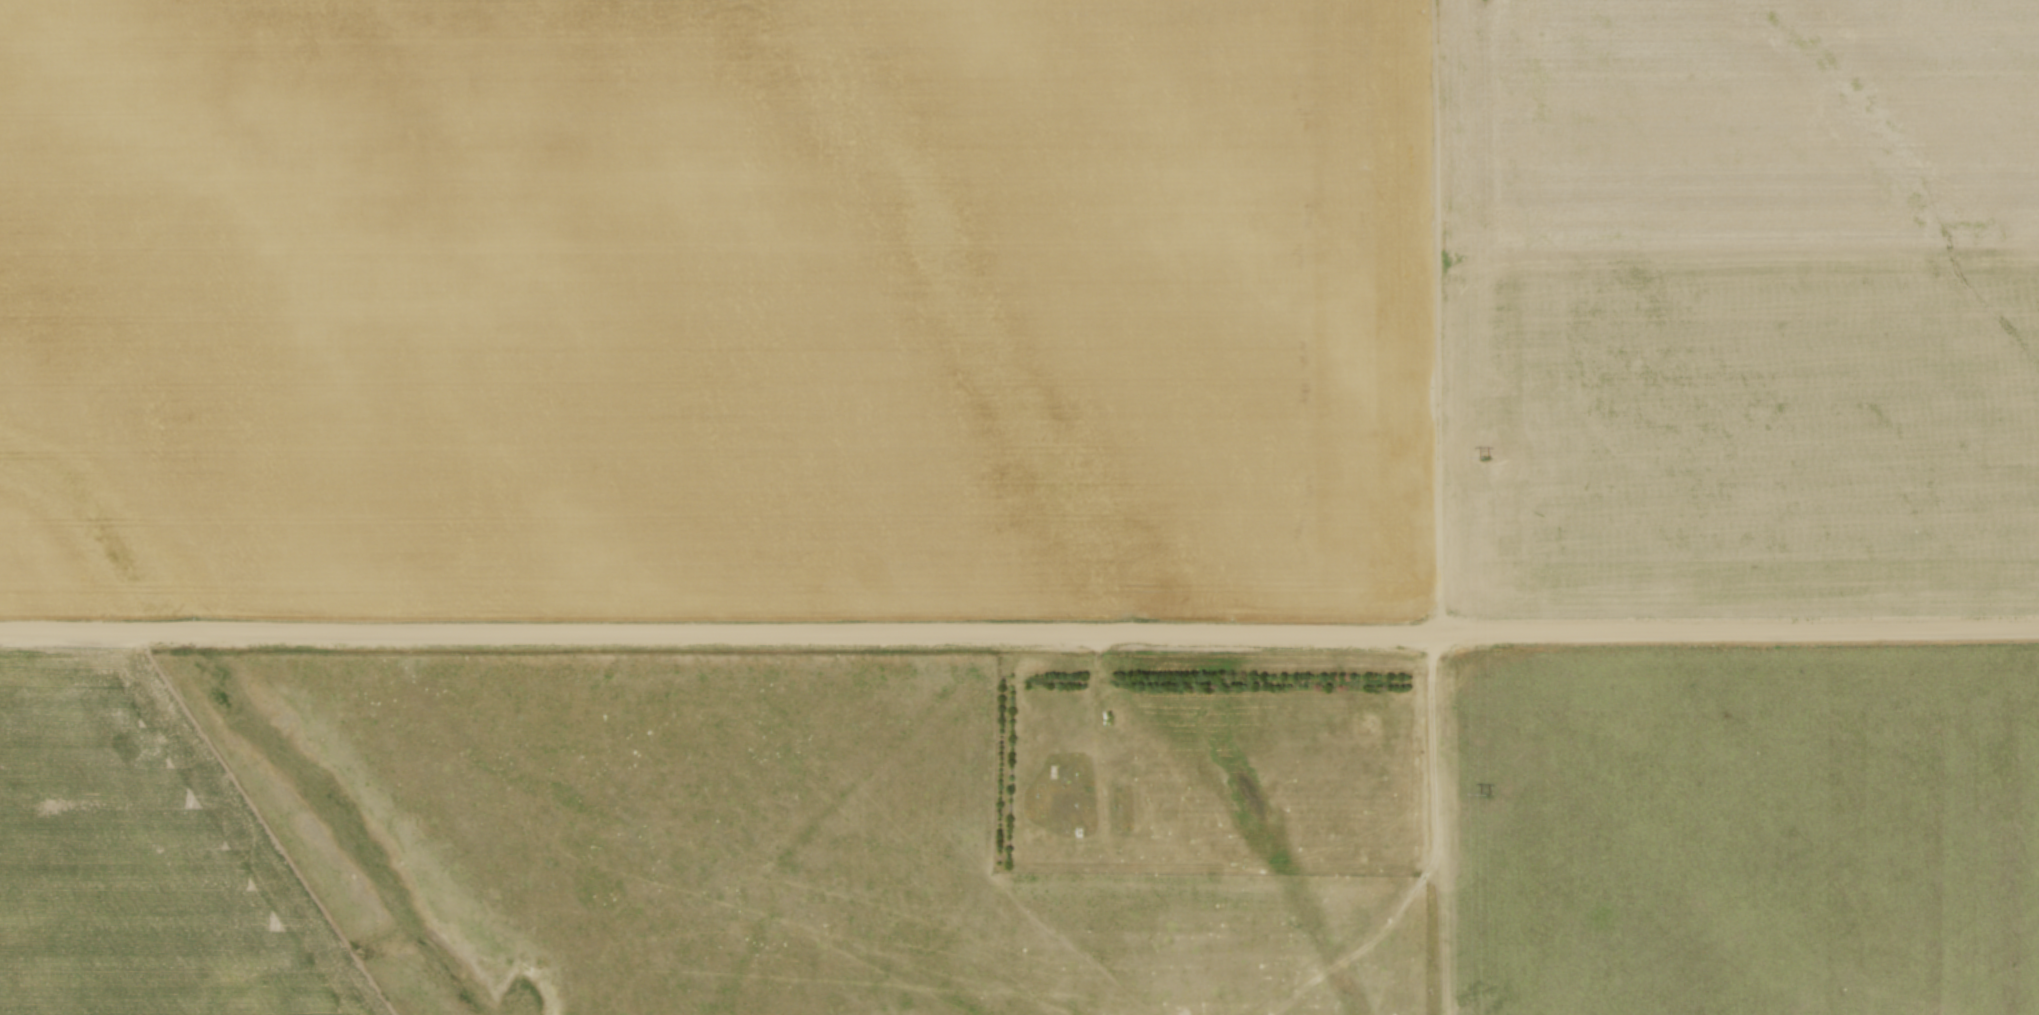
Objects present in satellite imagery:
crop: (1019, 308)
power tower: (1483, 457)
road: (1019, 634)
road: (1095, 708)
park: (1208, 762)
power tower: (1484, 794)
crop: (145, 858)

